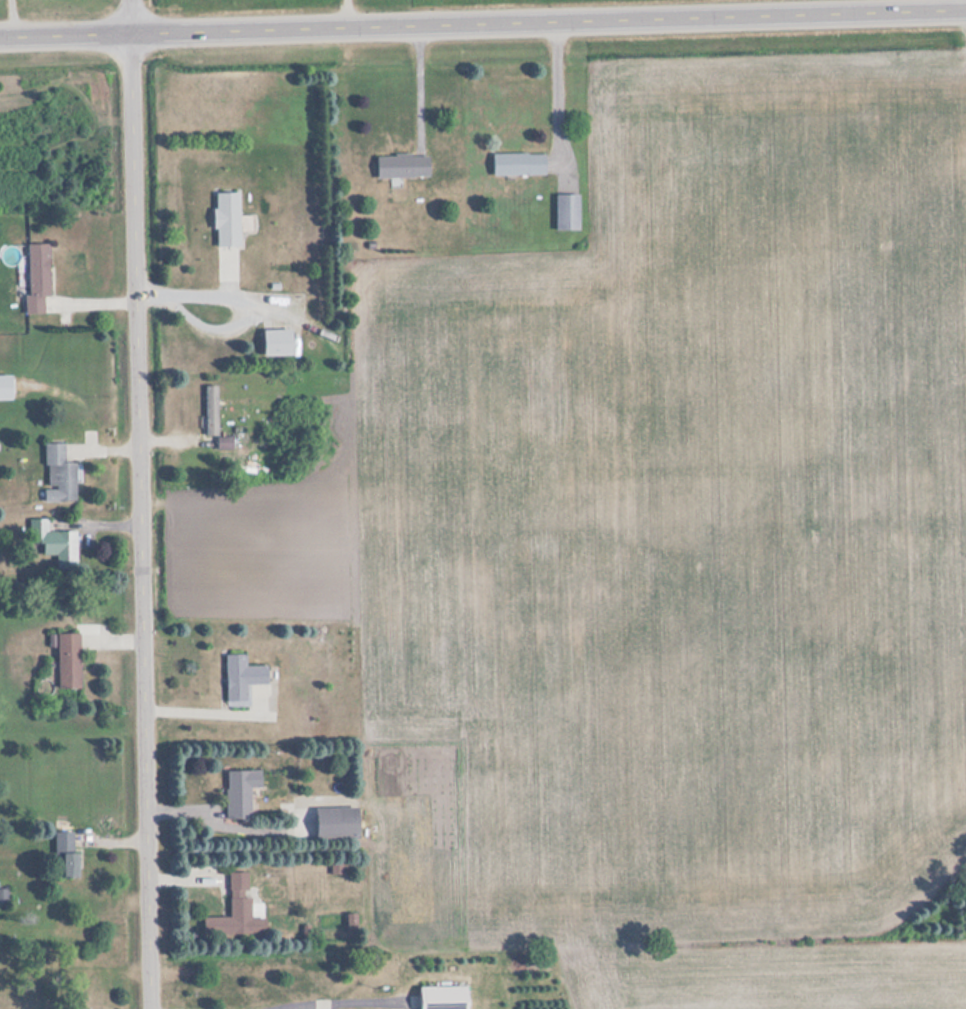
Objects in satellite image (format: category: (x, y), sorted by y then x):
road: (133, 16)
road: (482, 25)
building: (519, 163)
building: (403, 165)
building: (568, 212)
building: (230, 220)
building: (38, 277)
building: (279, 342)
building: (6, 387)
building: (211, 411)
building: (224, 443)
building: (58, 474)
road: (142, 521)
building: (49, 540)
building: (69, 660)
building: (242, 676)
building: (241, 792)
building: (339, 821)
building: (66, 855)
building: (237, 911)
building: (444, 997)

